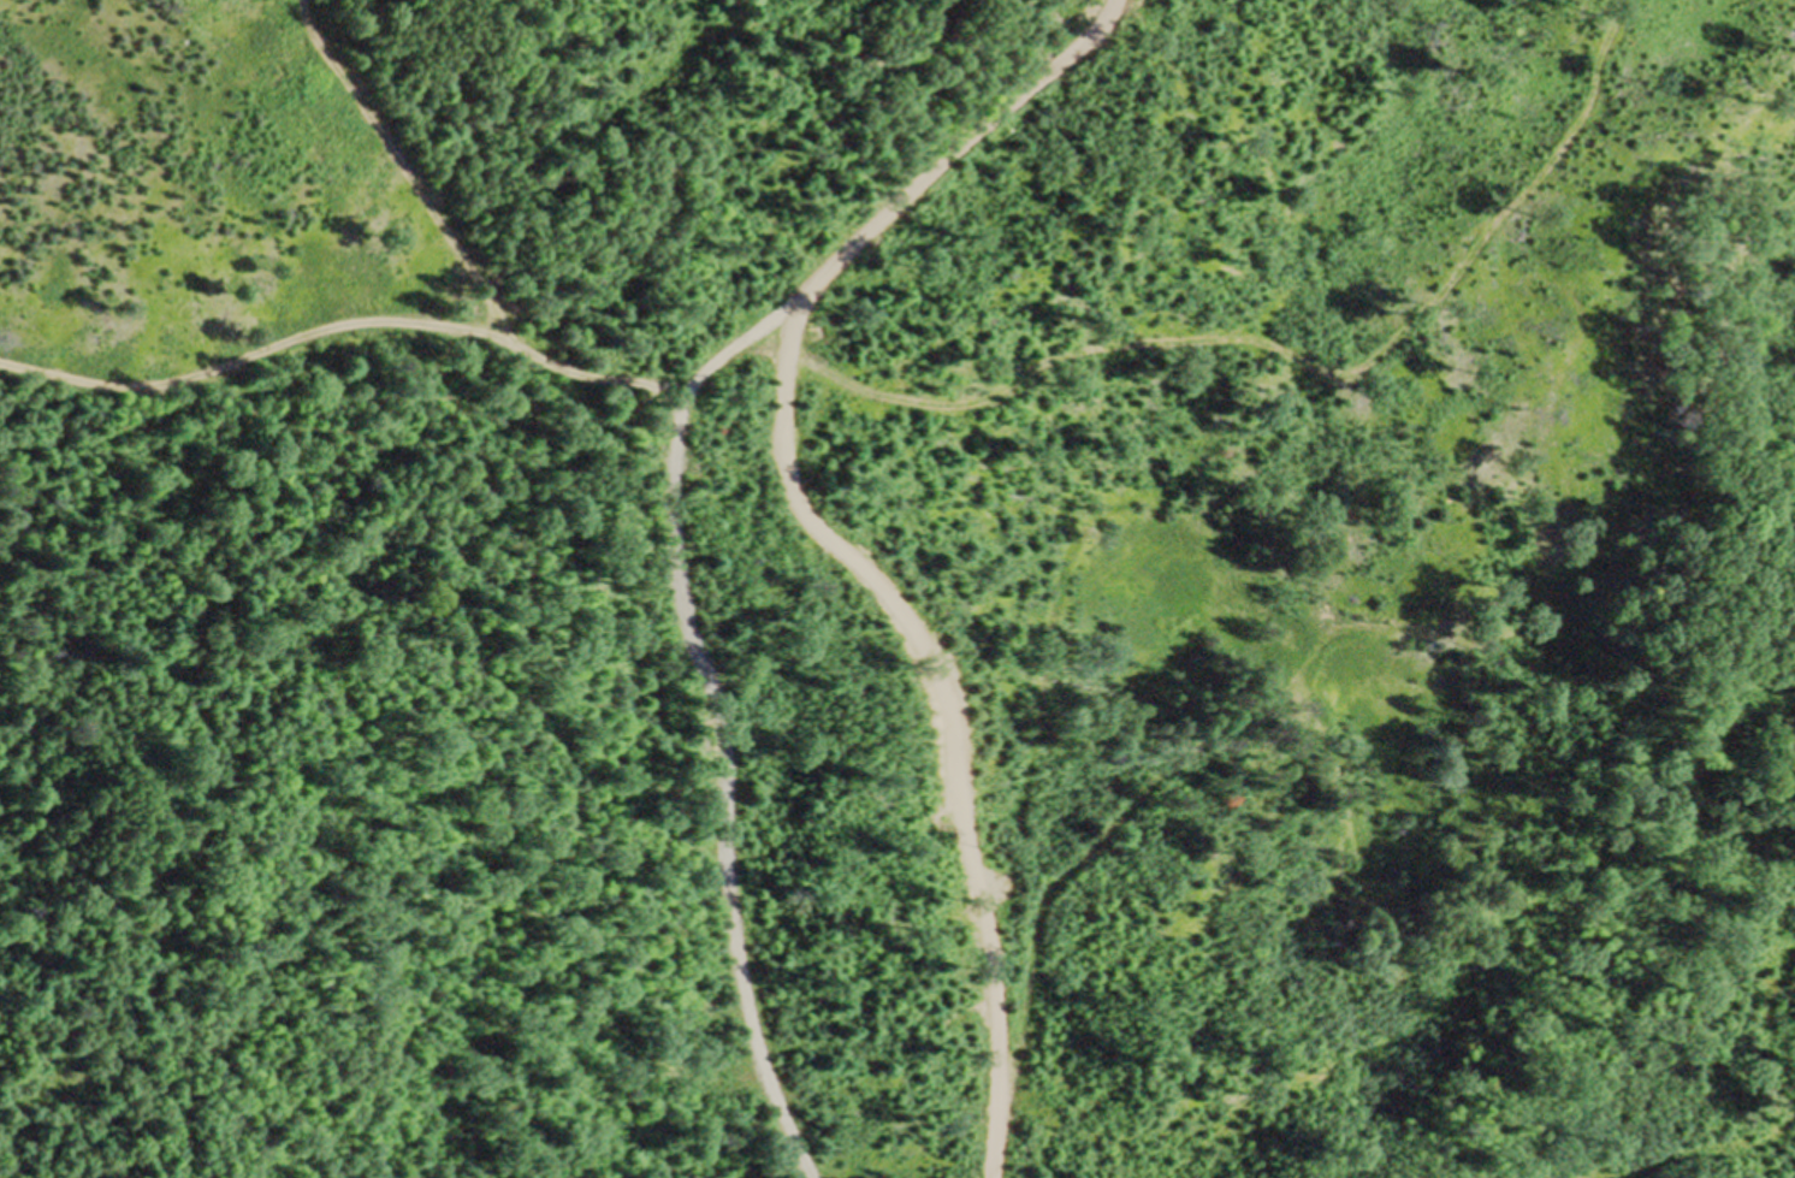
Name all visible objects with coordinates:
road: (408, 173)
road: (342, 325)
road: (1109, 344)
road: (675, 503)
road: (1078, 847)

